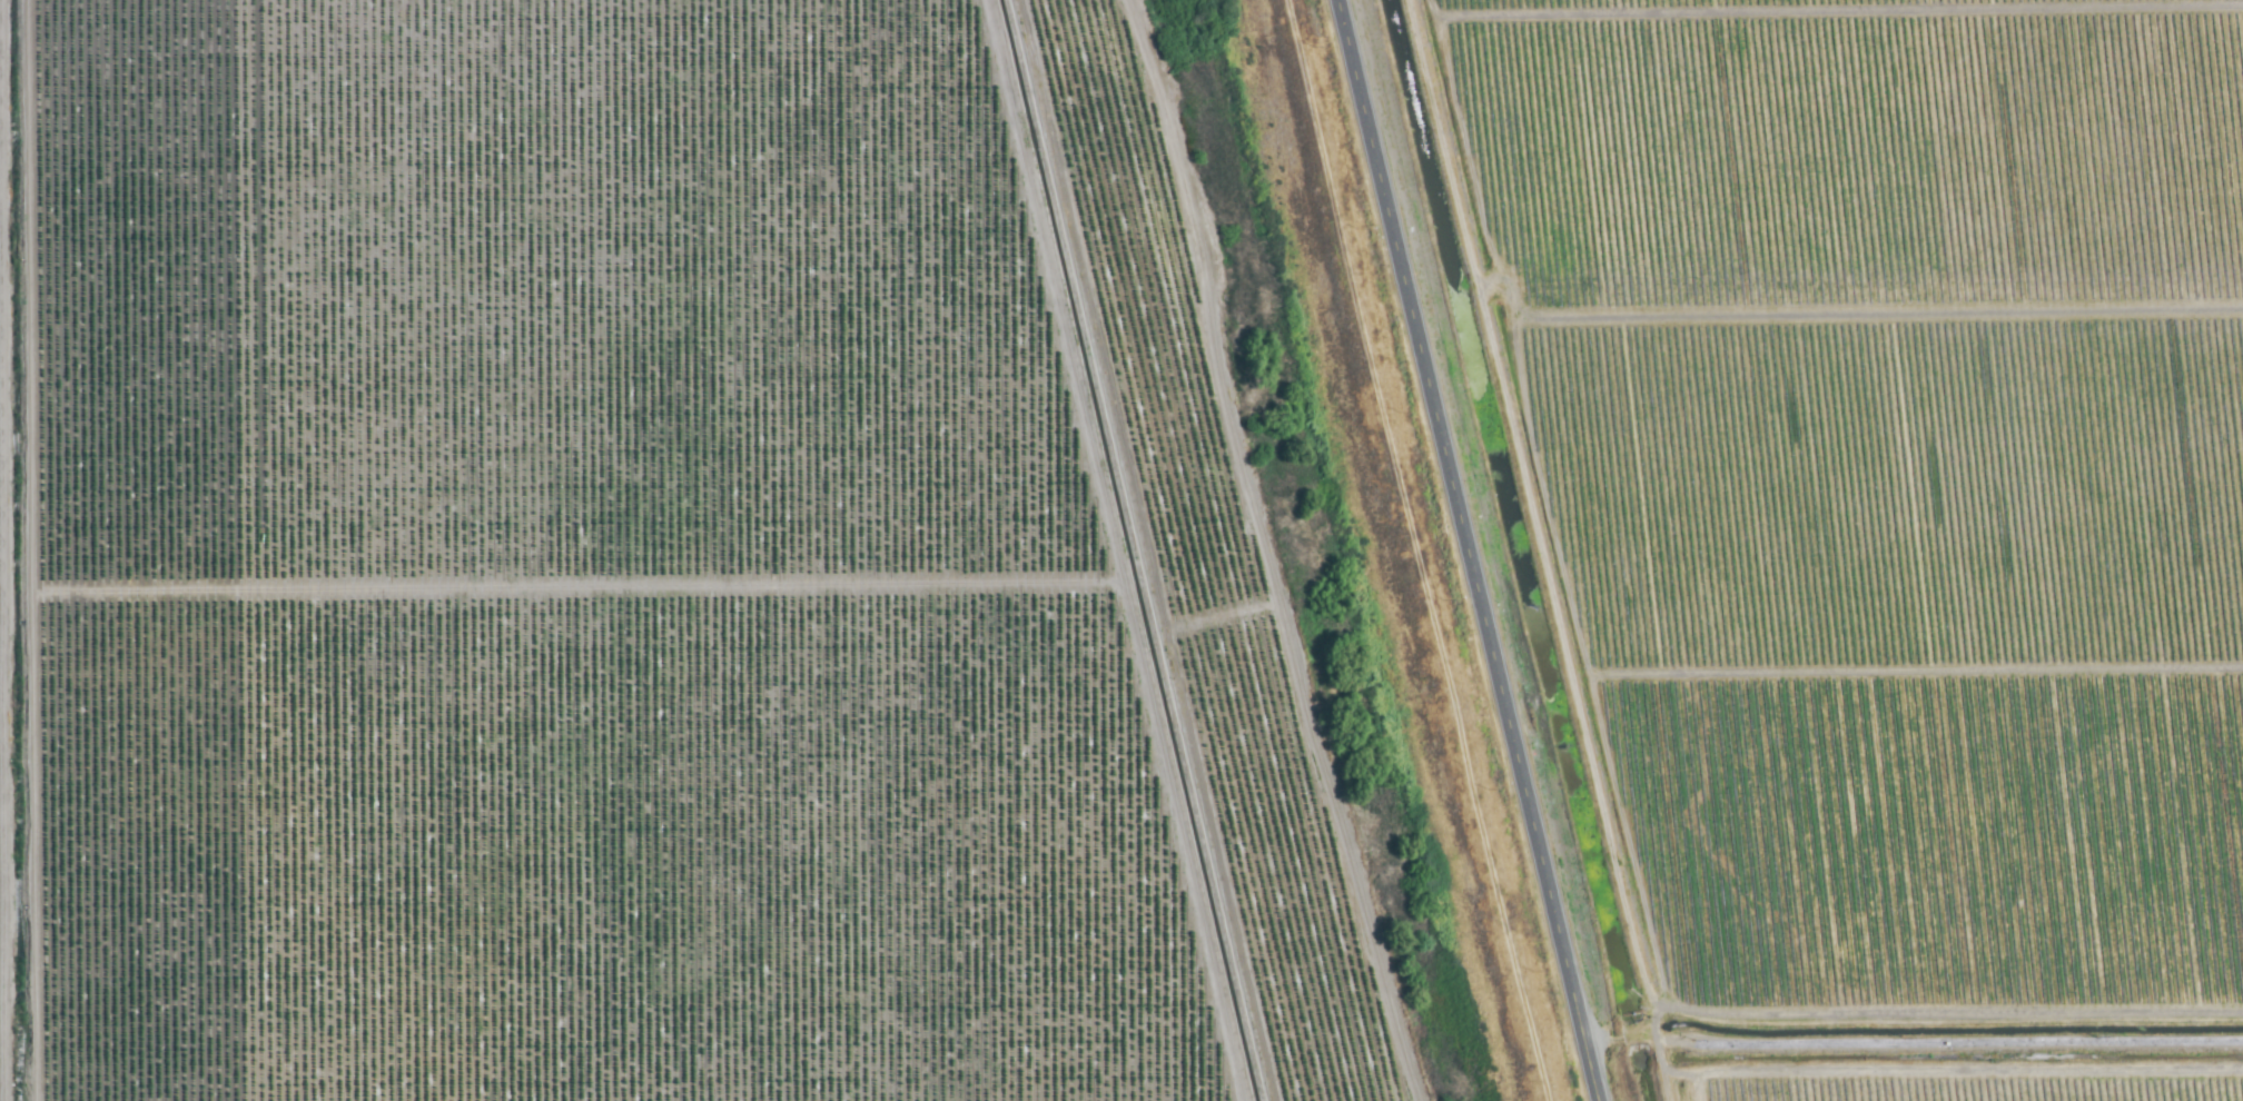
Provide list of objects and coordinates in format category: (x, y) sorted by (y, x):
road: (1474, 550)

